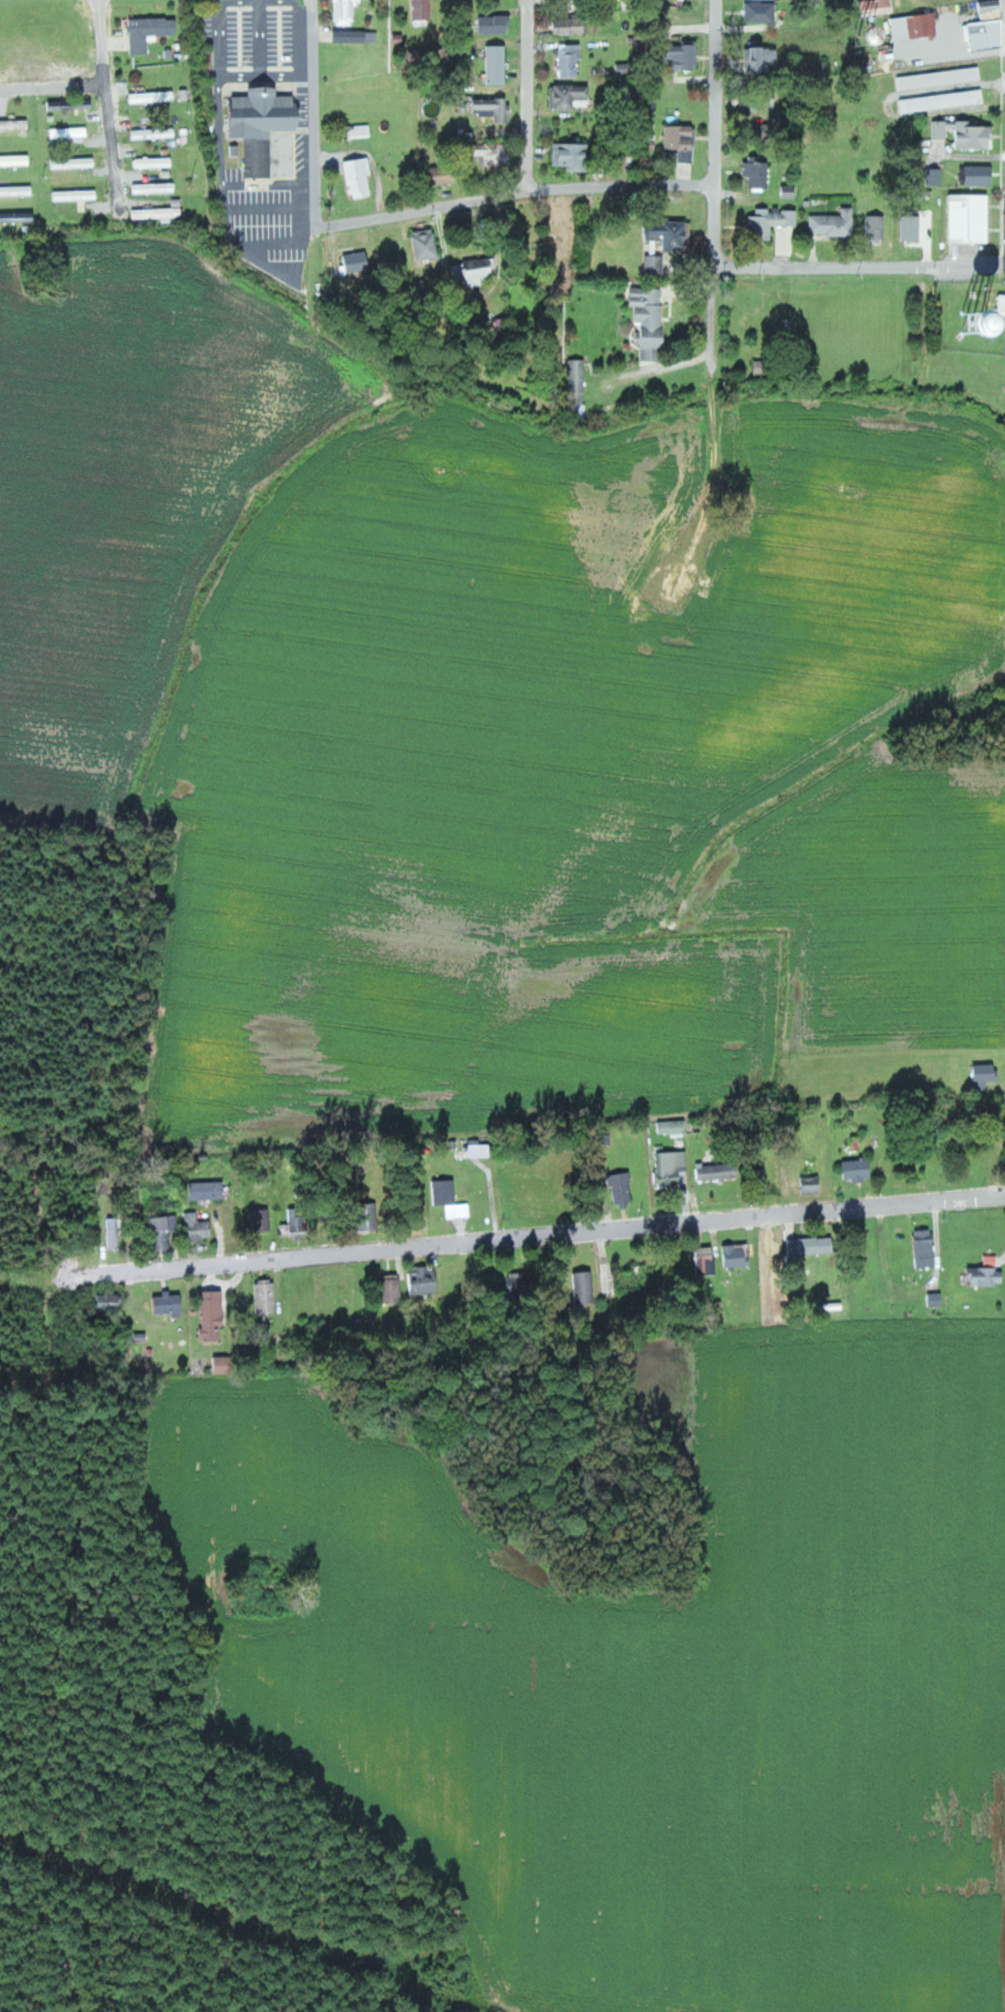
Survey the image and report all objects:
building: (876, 6)
building: (423, 9)
building: (347, 11)
building: (763, 11)
building: (917, 23)
building: (498, 24)
building: (572, 26)
building: (150, 32)
building: (987, 33)
building: (356, 36)
building: (570, 60)
building: (766, 60)
building: (498, 64)
building: (940, 77)
road: (53, 86)
building: (154, 96)
building: (571, 96)
road: (530, 99)
building: (944, 100)
road: (109, 108)
building: (493, 108)
road: (316, 115)
building: (15, 125)
building: (264, 125)
building: (939, 129)
building: (351, 132)
building: (71, 133)
building: (155, 133)
building: (974, 135)
building: (682, 141)
building: (494, 154)
building: (443, 156)
building: (573, 156)
building: (16, 160)
building: (76, 162)
building: (155, 162)
building: (759, 174)
building: (445, 175)
building: (979, 175)
building: (360, 178)
building: (155, 187)
building: (17, 190)
building: (790, 191)
building: (77, 195)
road: (517, 200)
building: (162, 212)
building: (18, 217)
road: (714, 222)
building: (770, 222)
building: (834, 223)
building: (874, 227)
building: (912, 227)
building: (671, 233)
building: (427, 244)
building: (358, 261)
building: (656, 264)
road: (859, 266)
building: (474, 272)
building: (651, 319)
water tower: (973, 323)
building: (764, 368)
building: (578, 386)
building: (985, 1074)
building: (672, 1126)
building: (478, 1150)
building: (672, 1167)
building: (860, 1169)
building: (719, 1171)
building: (812, 1181)
building: (623, 1187)
building: (208, 1190)
building: (450, 1198)
building: (263, 1219)
building: (297, 1223)
building: (198, 1227)
building: (164, 1231)
building: (113, 1232)
road: (553, 1235)
building: (814, 1245)
building: (926, 1248)
building: (737, 1255)
building: (707, 1260)
building: (992, 1260)
building: (988, 1276)
building: (422, 1280)
road: (50, 1283)
building: (521, 1284)
building: (586, 1287)
building: (392, 1288)
building: (267, 1295)
building: (937, 1299)
building: (107, 1301)
building: (169, 1302)
building: (213, 1314)
building: (226, 1364)

